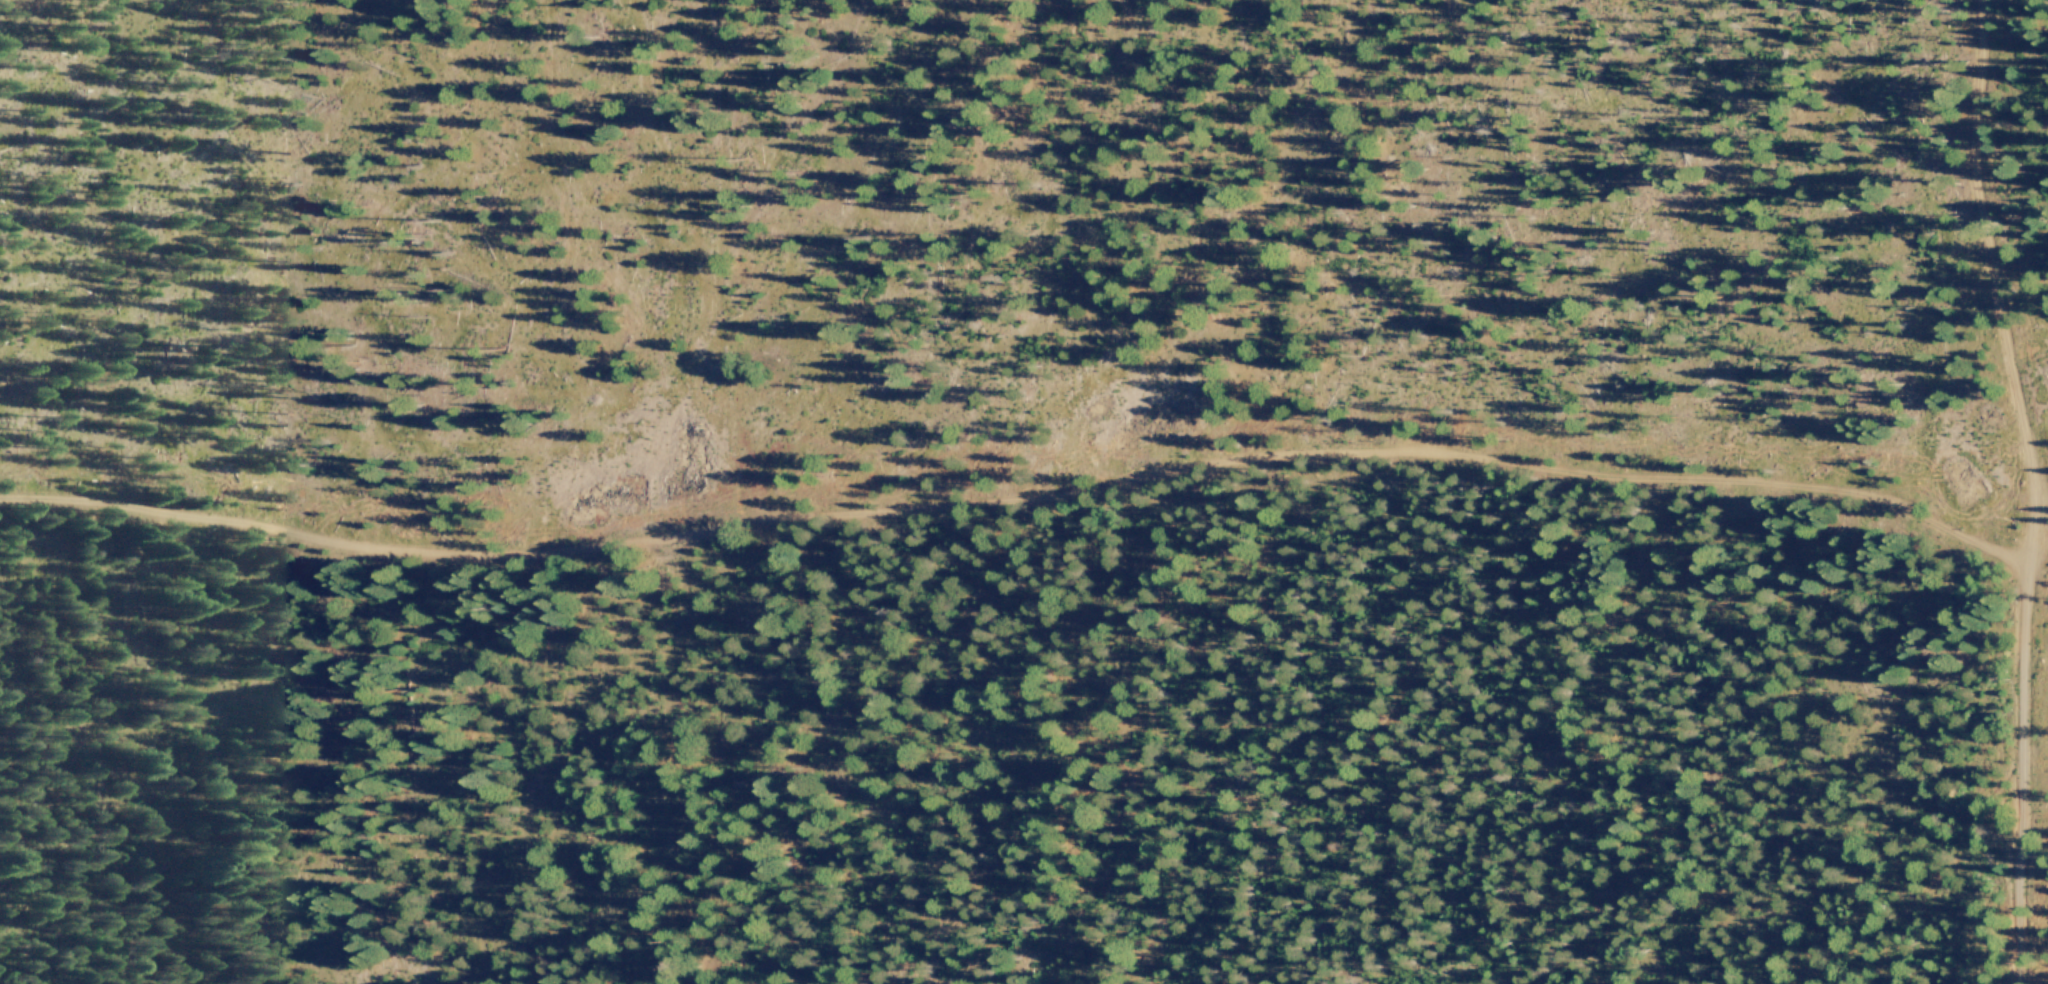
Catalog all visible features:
road: (2033, 490)
road: (2040, 499)

